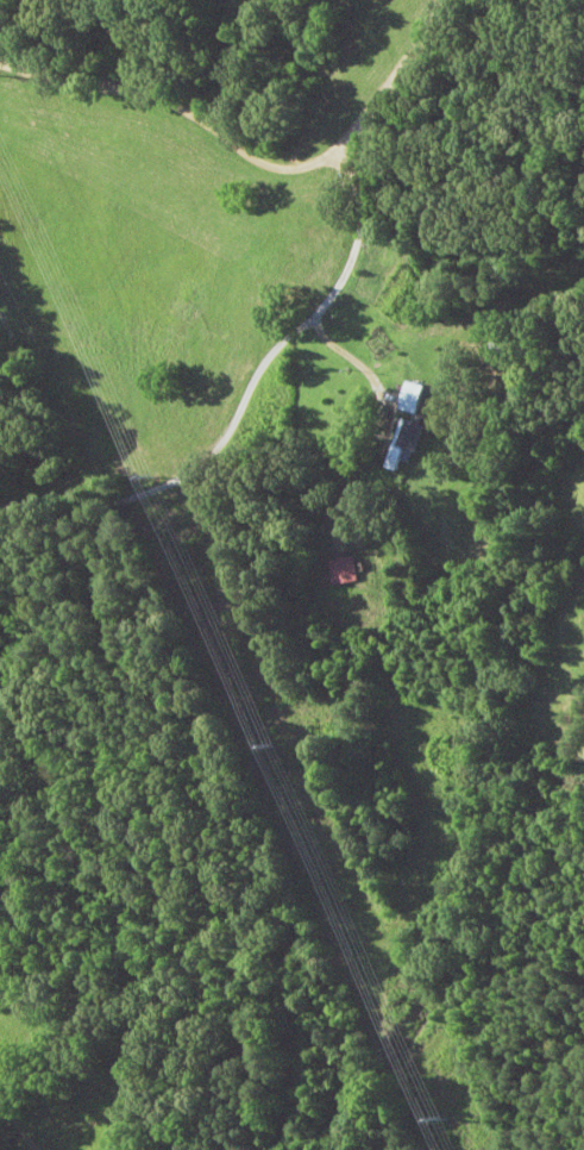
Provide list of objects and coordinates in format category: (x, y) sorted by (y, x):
building: (409, 399)
building: (402, 443)
building: (341, 571)

